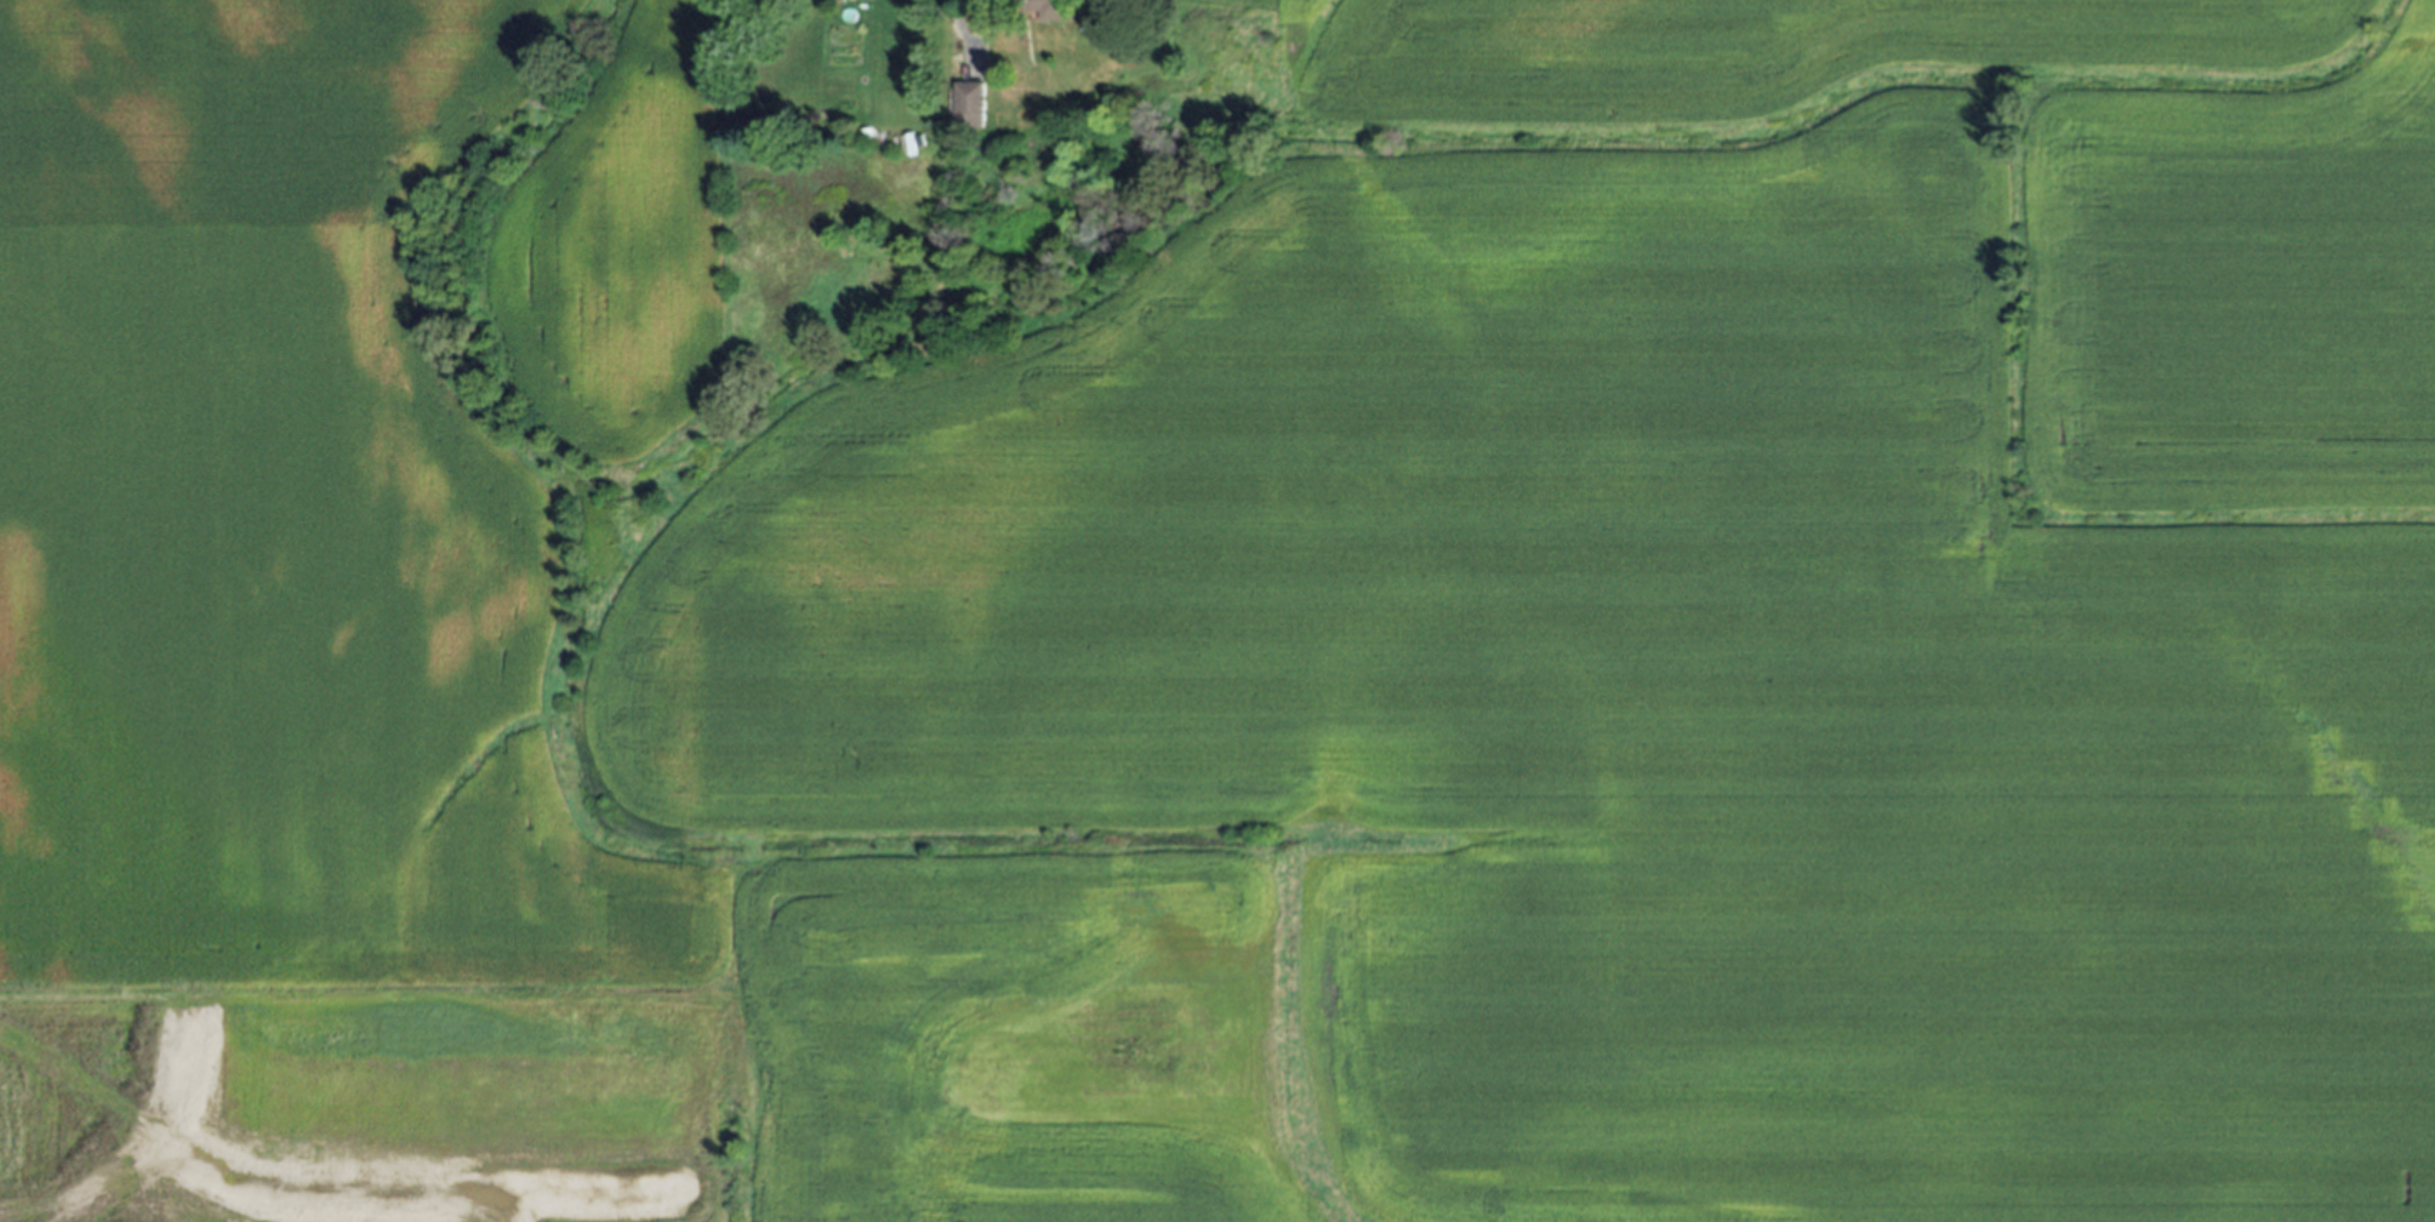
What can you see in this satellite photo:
building: (1044, 8)
building: (970, 104)
road: (159, 1144)
road: (415, 1203)
road: (502, 1211)

